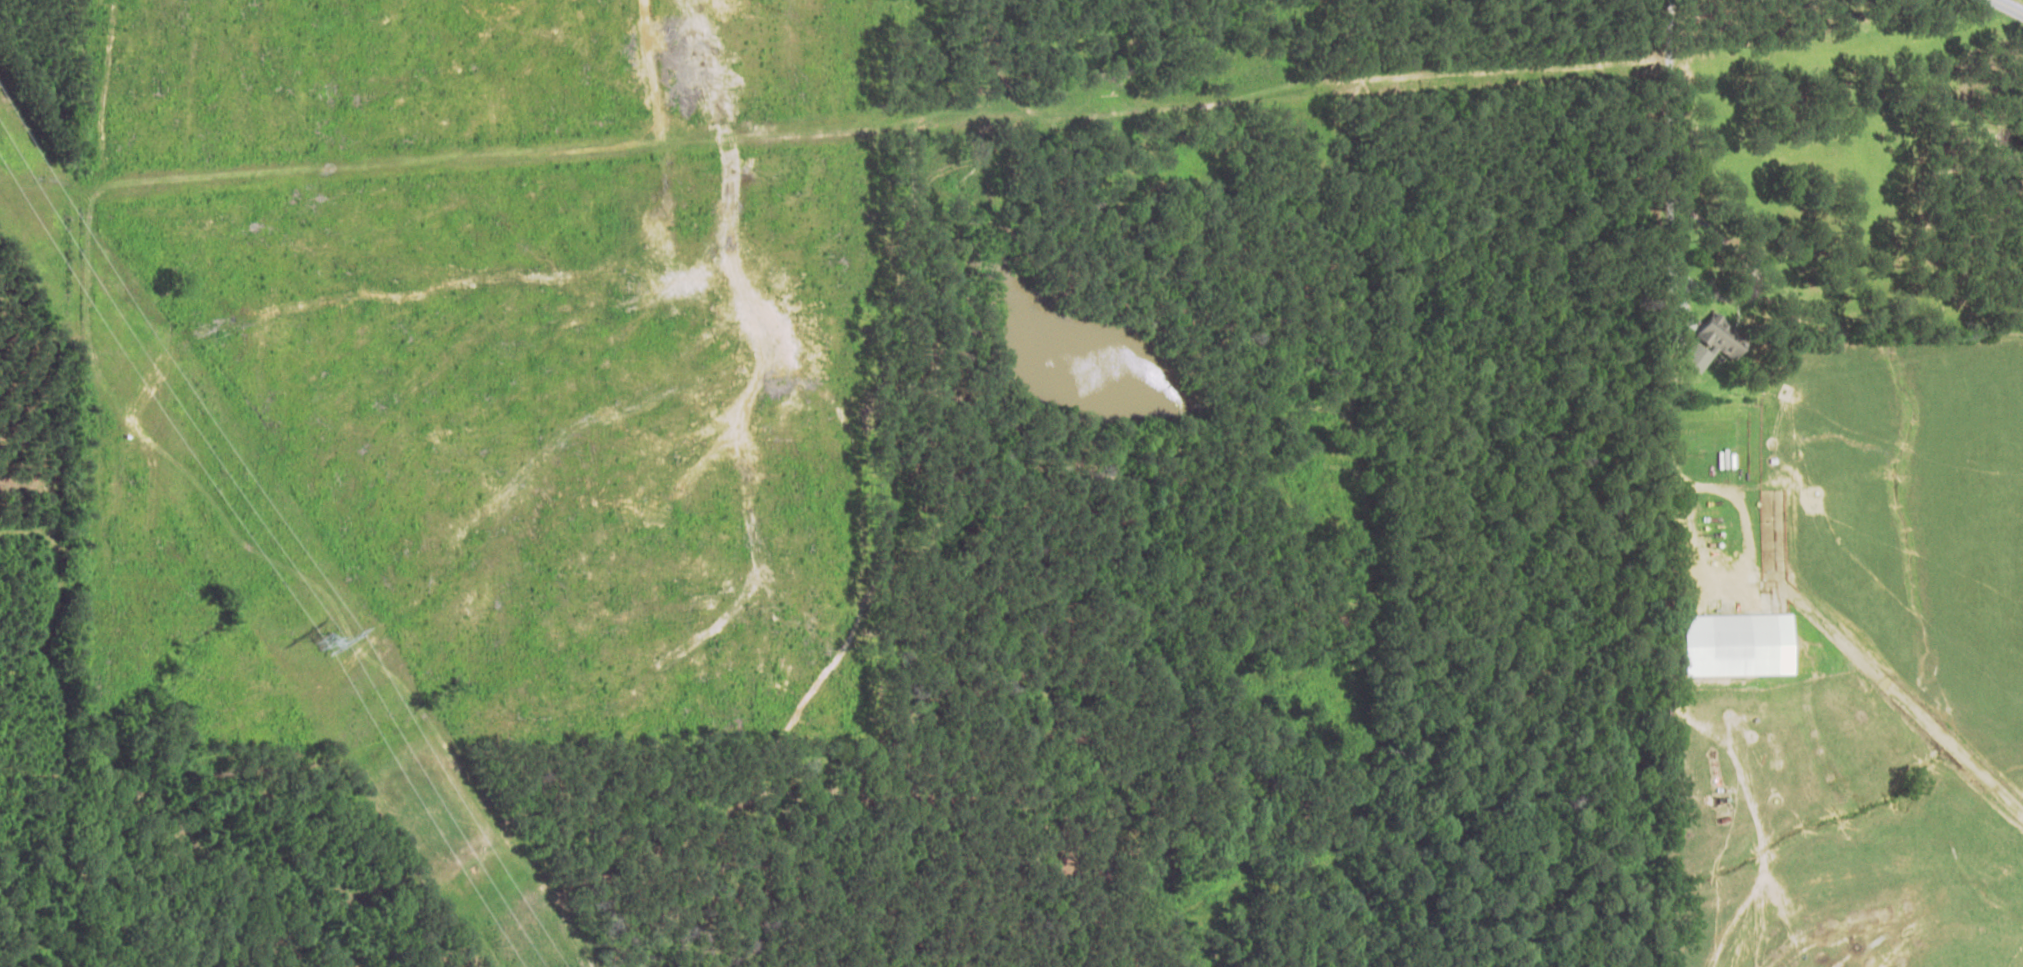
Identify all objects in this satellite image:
road: (1962, 21)
road: (405, 57)
road: (855, 113)
building: (1689, 351)
road: (1014, 373)
power tower: (327, 641)
building: (1732, 645)

